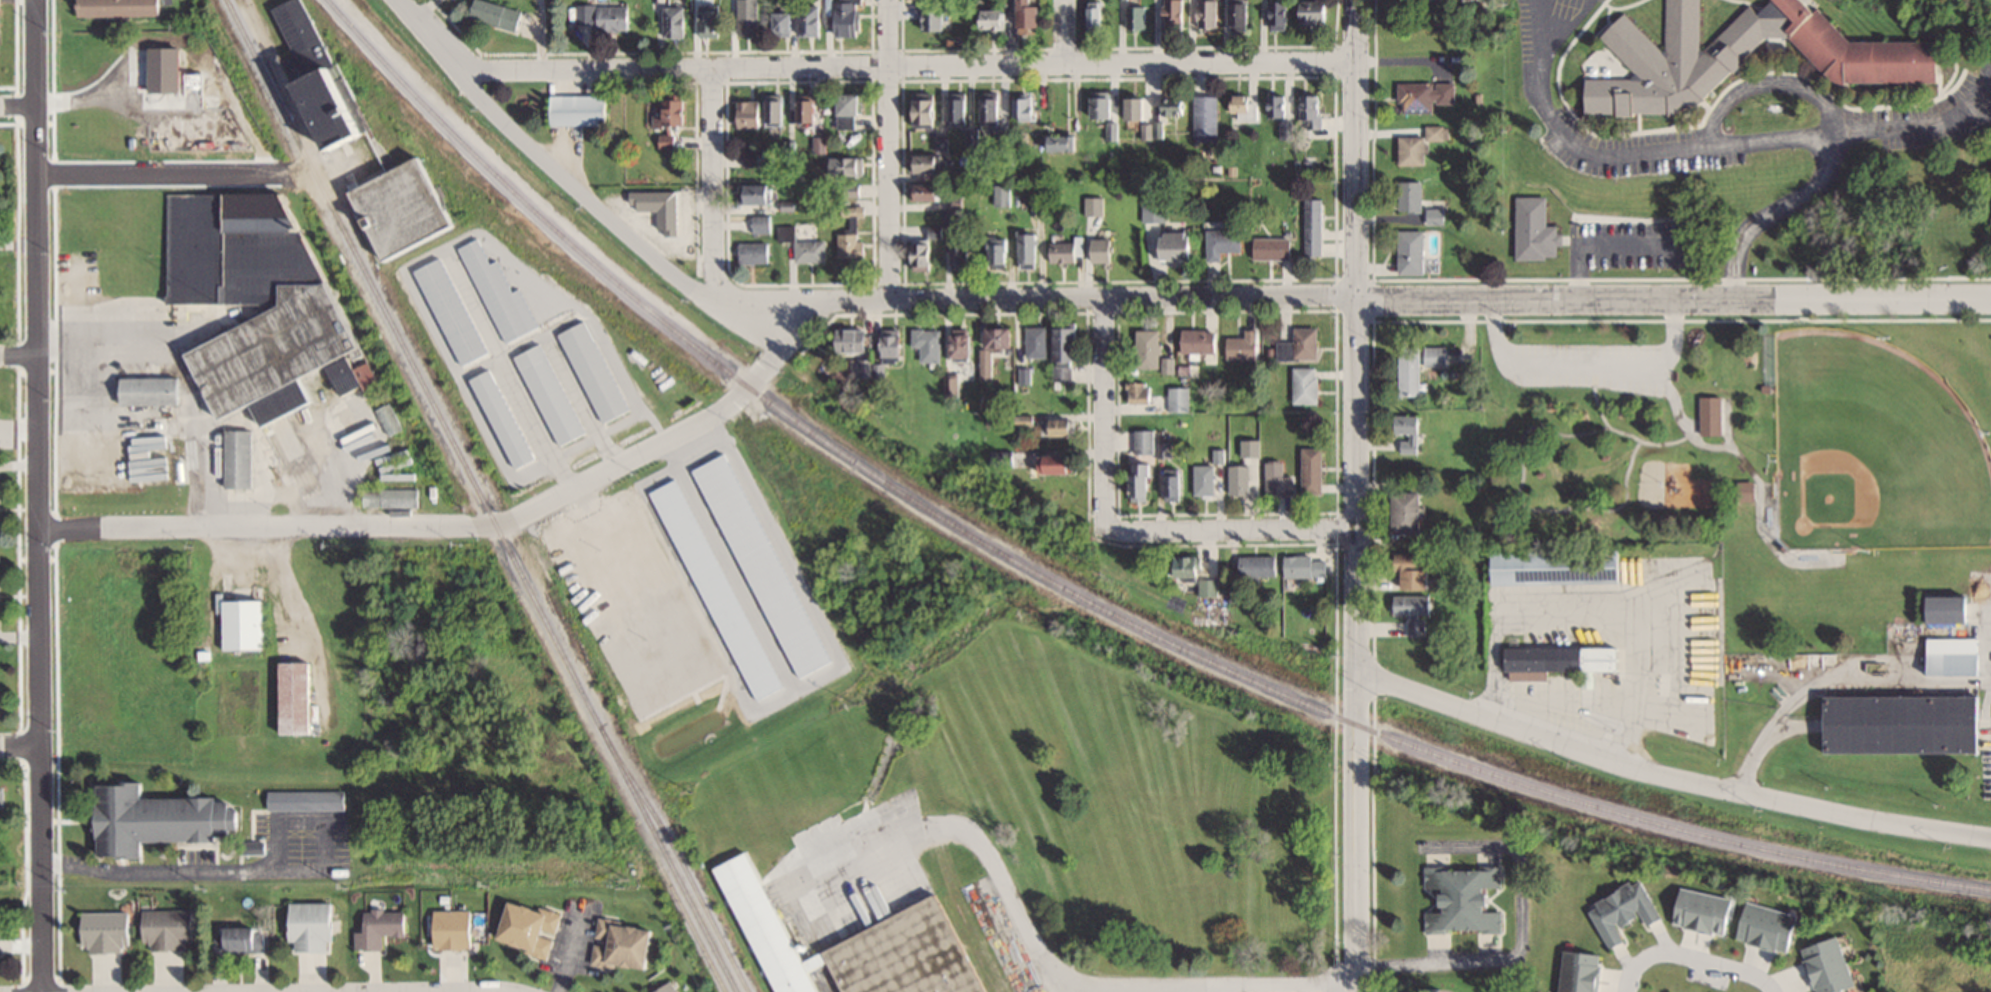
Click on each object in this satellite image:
building: (119, 7)
building: (1313, 11)
building: (496, 13)
building: (1174, 13)
building: (1206, 13)
building: (745, 14)
building: (1238, 14)
building: (1095, 15)
building: (1281, 15)
building: (604, 16)
building: (998, 16)
building: (1033, 16)
building: (850, 17)
building: (1135, 17)
road: (1533, 18)
building: (710, 19)
building: (812, 19)
building: (935, 19)
building: (675, 20)
building: (785, 23)
building: (0, 30)
road: (1066, 32)
road: (539, 35)
building: (1741, 55)
road: (910, 66)
building: (320, 75)
building: (1425, 95)
building: (1243, 104)
road: (18, 105)
building: (1175, 105)
building: (1277, 106)
building: (1104, 107)
building: (928, 108)
building: (1027, 108)
building: (580, 109)
building: (851, 109)
building: (961, 109)
building: (994, 110)
building: (778, 111)
building: (810, 111)
building: (1312, 111)
building: (750, 113)
building: (1141, 115)
building: (1208, 115)
building: (667, 119)
building: (195, 122)
road: (1894, 124)
building: (1113, 130)
building: (974, 135)
road: (1737, 140)
building: (944, 143)
building: (820, 144)
building: (1420, 144)
road: (890, 150)
building: (751, 160)
building: (930, 162)
building: (848, 165)
road: (152, 174)
road: (578, 190)
building: (929, 191)
building: (759, 193)
building: (1003, 194)
building: (1411, 196)
building: (407, 206)
building: (1093, 206)
building: (1152, 207)
building: (1436, 215)
building: (949, 217)
building: (762, 223)
building: (1314, 226)
building: (1536, 230)
building: (936, 231)
road: (714, 233)
building: (1222, 242)
road: (19, 243)
building: (852, 245)
building: (1176, 245)
building: (1273, 247)
building: (1027, 249)
building: (811, 250)
building: (1065, 250)
building: (1103, 250)
building: (754, 252)
building: (1413, 252)
building: (962, 253)
building: (1000, 253)
building: (925, 255)
building: (500, 294)
road: (978, 299)
building: (255, 300)
building: (453, 311)
building: (855, 340)
building: (1199, 341)
building: (1036, 342)
building: (894, 343)
building: (927, 343)
building: (1243, 345)
building: (1300, 345)
building: (964, 346)
building: (1148, 349)
building: (1066, 351)
road: (19, 355)
building: (1435, 356)
road: (1583, 360)
building: (987, 364)
building: (1167, 365)
building: (870, 369)
building: (595, 371)
building: (1409, 371)
building: (1025, 376)
building: (1305, 385)
building: (151, 390)
road: (1105, 392)
building: (1138, 392)
building: (551, 394)
building: (1179, 398)
building: (1712, 415)
building: (505, 418)
building: (390, 419)
road: (19, 423)
building: (1059, 427)
building: (1409, 433)
building: (1144, 441)
park: (1873, 446)
building: (1164, 449)
park: (1750, 452)
building: (239, 458)
building: (1056, 464)
road: (19, 466)
building: (1312, 470)
building: (1243, 472)
building: (1278, 478)
building: (1204, 479)
building: (1141, 481)
building: (1174, 485)
building: (1747, 490)
road: (39, 495)
railway: (480, 495)
road: (1357, 495)
building: (391, 497)
building: (1410, 513)
road: (1212, 531)
building: (659, 537)
building: (1257, 565)
building: (1190, 566)
building: (1306, 566)
building: (1558, 567)
building: (1415, 571)
road: (280, 584)
building: (1208, 587)
building: (1235, 592)
building: (1412, 605)
building: (1951, 609)
building: (244, 624)
building: (1416, 628)
road: (20, 636)
building: (1955, 656)
building: (1561, 661)
building: (297, 698)
building: (1904, 724)
road: (20, 745)
road: (1667, 778)
building: (1, 797)
building: (159, 819)
railway: (684, 871)
building: (1464, 899)
building: (1623, 912)
building: (1704, 912)
building: (457, 924)
building: (312, 926)
railway: (691, 926)
building: (1768, 926)
building: (530, 927)
building: (168, 929)
building: (381, 929)
building: (106, 931)
road: (1518, 934)
building: (240, 940)
building: (623, 945)
building: (857, 947)
road: (1690, 959)
building: (1830, 966)
building: (1582, 972)
building: (669, 988)

